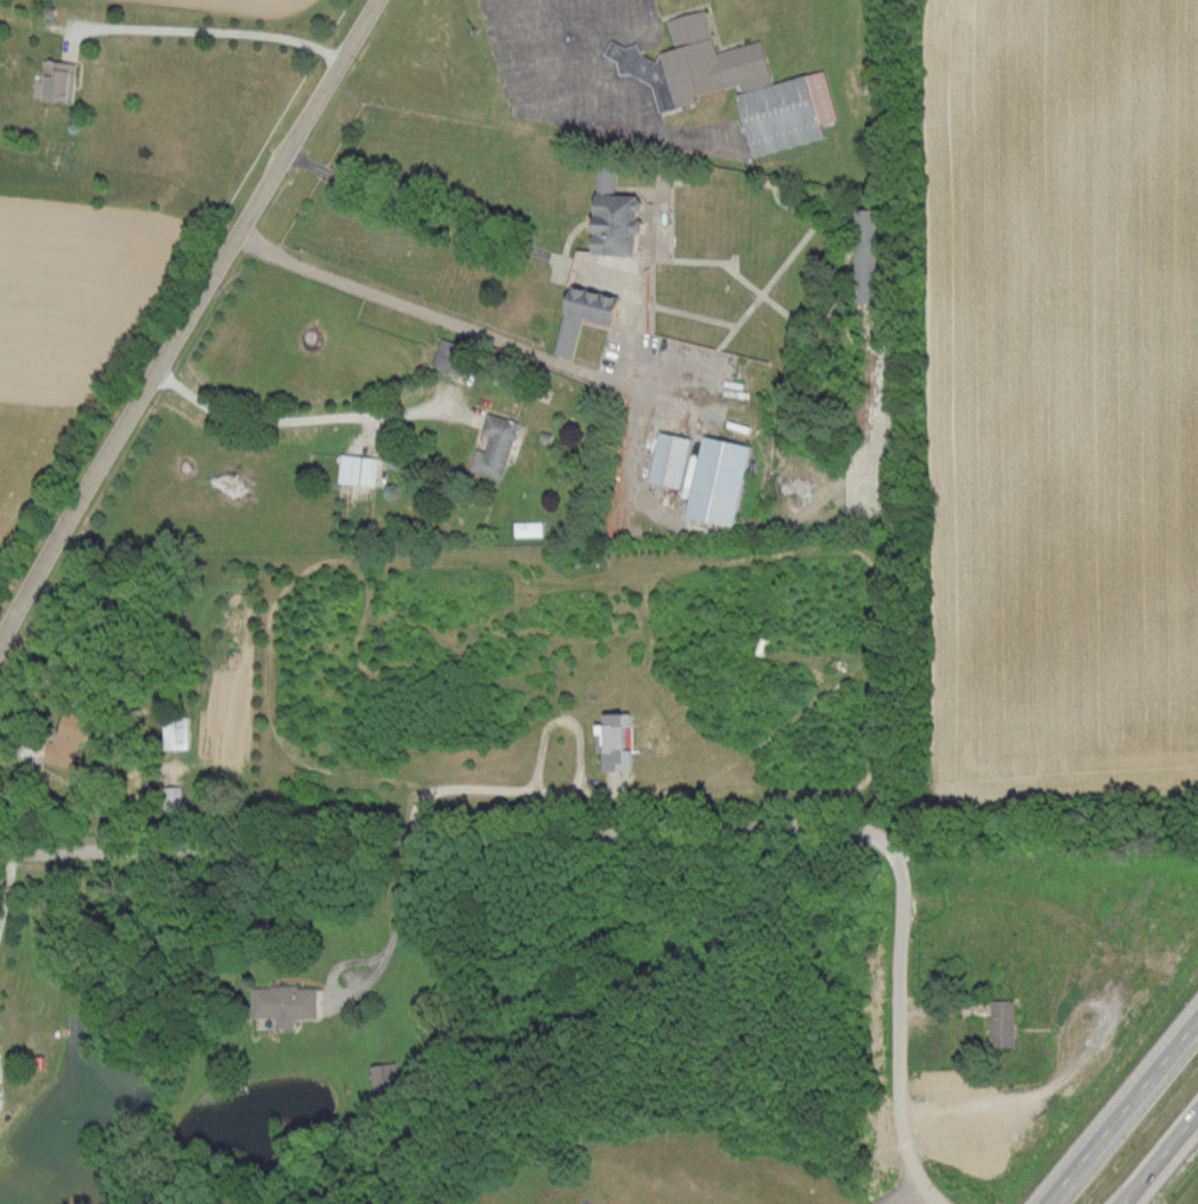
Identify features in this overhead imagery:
road: (208, 30)
road: (580, 73)
building: (59, 80)
building: (734, 82)
road: (447, 216)
building: (620, 219)
road: (183, 314)
building: (589, 314)
road: (467, 324)
building: (453, 355)
road: (323, 411)
building: (496, 446)
building: (359, 468)
building: (706, 474)
building: (178, 733)
building: (70, 738)
building: (618, 742)
road: (554, 792)
road: (609, 825)
road: (7, 882)
road: (380, 964)
building: (286, 1002)
road: (937, 1006)
building: (1003, 1021)
building: (1, 1103)
road: (1122, 1111)
road: (1160, 1158)
road: (901, 1180)

